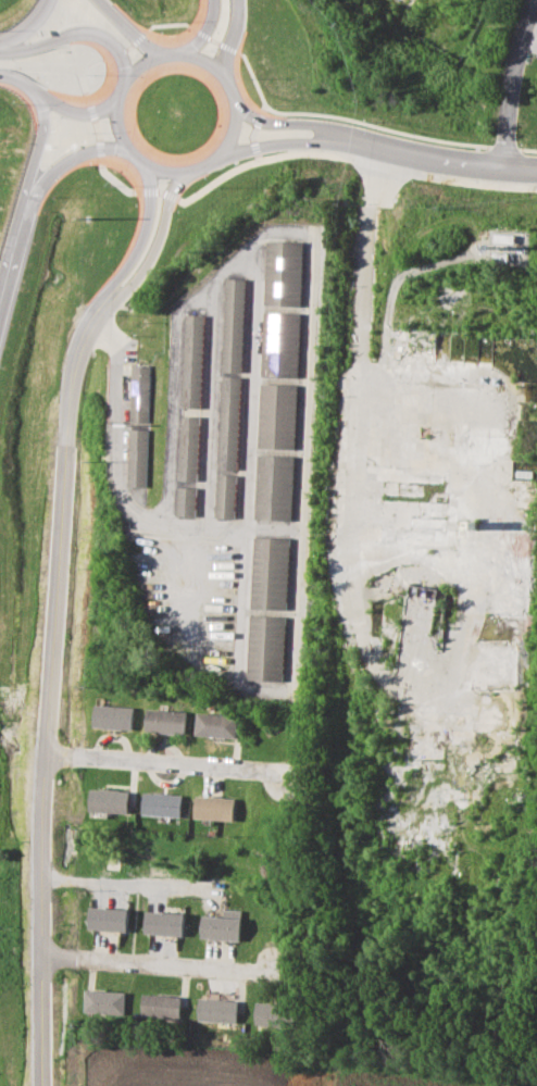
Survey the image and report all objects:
street lamp: (162, 18)
road: (26, 26)
road: (198, 29)
road: (122, 30)
road: (74, 34)
road: (225, 39)
road: (11, 78)
road: (222, 84)
road: (504, 86)
street lamp: (13, 104)
road: (67, 112)
street lamp: (369, 123)
road: (300, 125)
road: (288, 143)
road: (35, 150)
road: (62, 161)
street lamp: (273, 163)
road: (455, 165)
street lamp: (210, 187)
street lamp: (49, 199)
power tower: (84, 220)
road: (136, 237)
road: (149, 240)
road: (9, 251)
building: (280, 273)
building: (232, 325)
building: (278, 344)
building: (191, 360)
building: (138, 392)
building: (275, 415)
building: (227, 422)
building: (188, 447)
road: (118, 448)
building: (137, 458)
building: (272, 487)
building: (224, 496)
building: (186, 501)
building: (268, 572)
building: (265, 647)
road: (46, 690)
building: (113, 716)
building: (165, 721)
building: (215, 725)
road: (161, 763)
building: (109, 801)
building: (161, 804)
building: (213, 808)
road: (127, 884)
building: (107, 920)
building: (163, 924)
building: (220, 927)
road: (153, 964)
building: (103, 1001)
building: (160, 1006)
building: (216, 1010)
building: (267, 1013)

